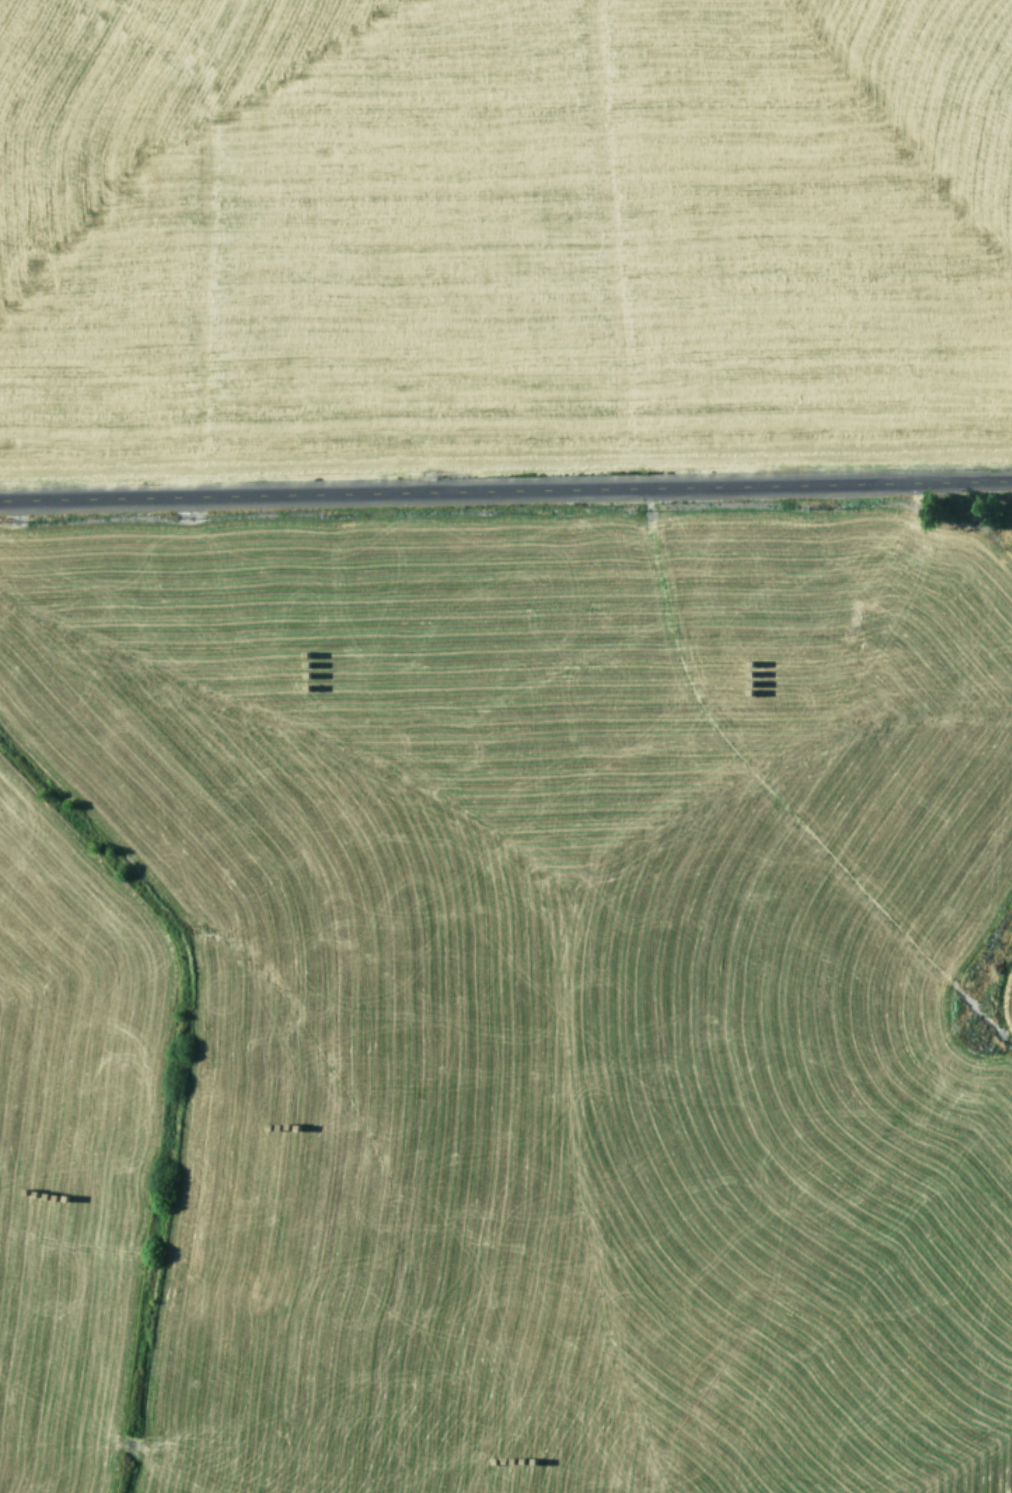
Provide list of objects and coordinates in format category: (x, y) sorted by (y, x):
road: (506, 493)
crop: (506, 746)

